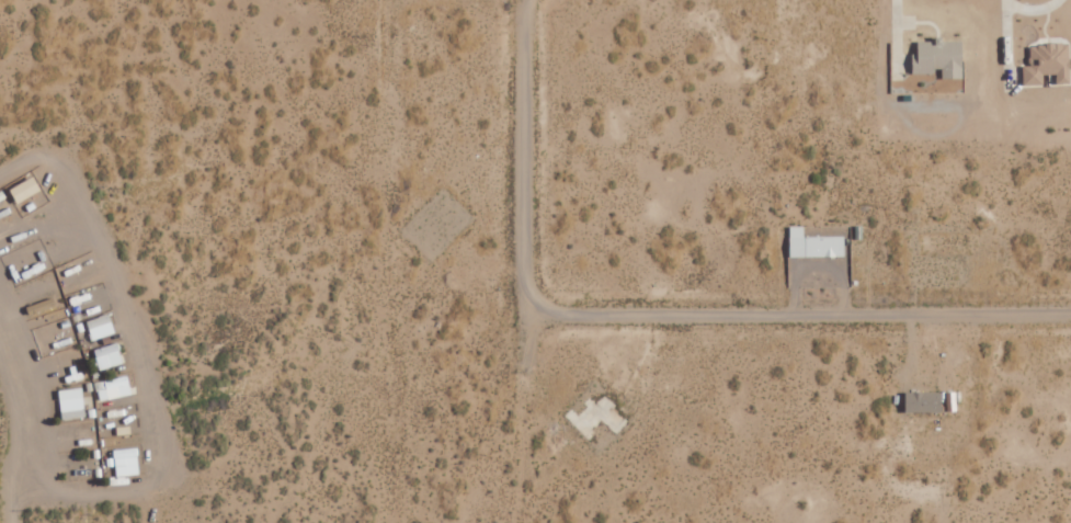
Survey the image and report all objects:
building: (941, 58)
building: (1049, 64)
building: (816, 245)
building: (110, 356)
road: (140, 364)
building: (924, 400)
road: (4, 463)

